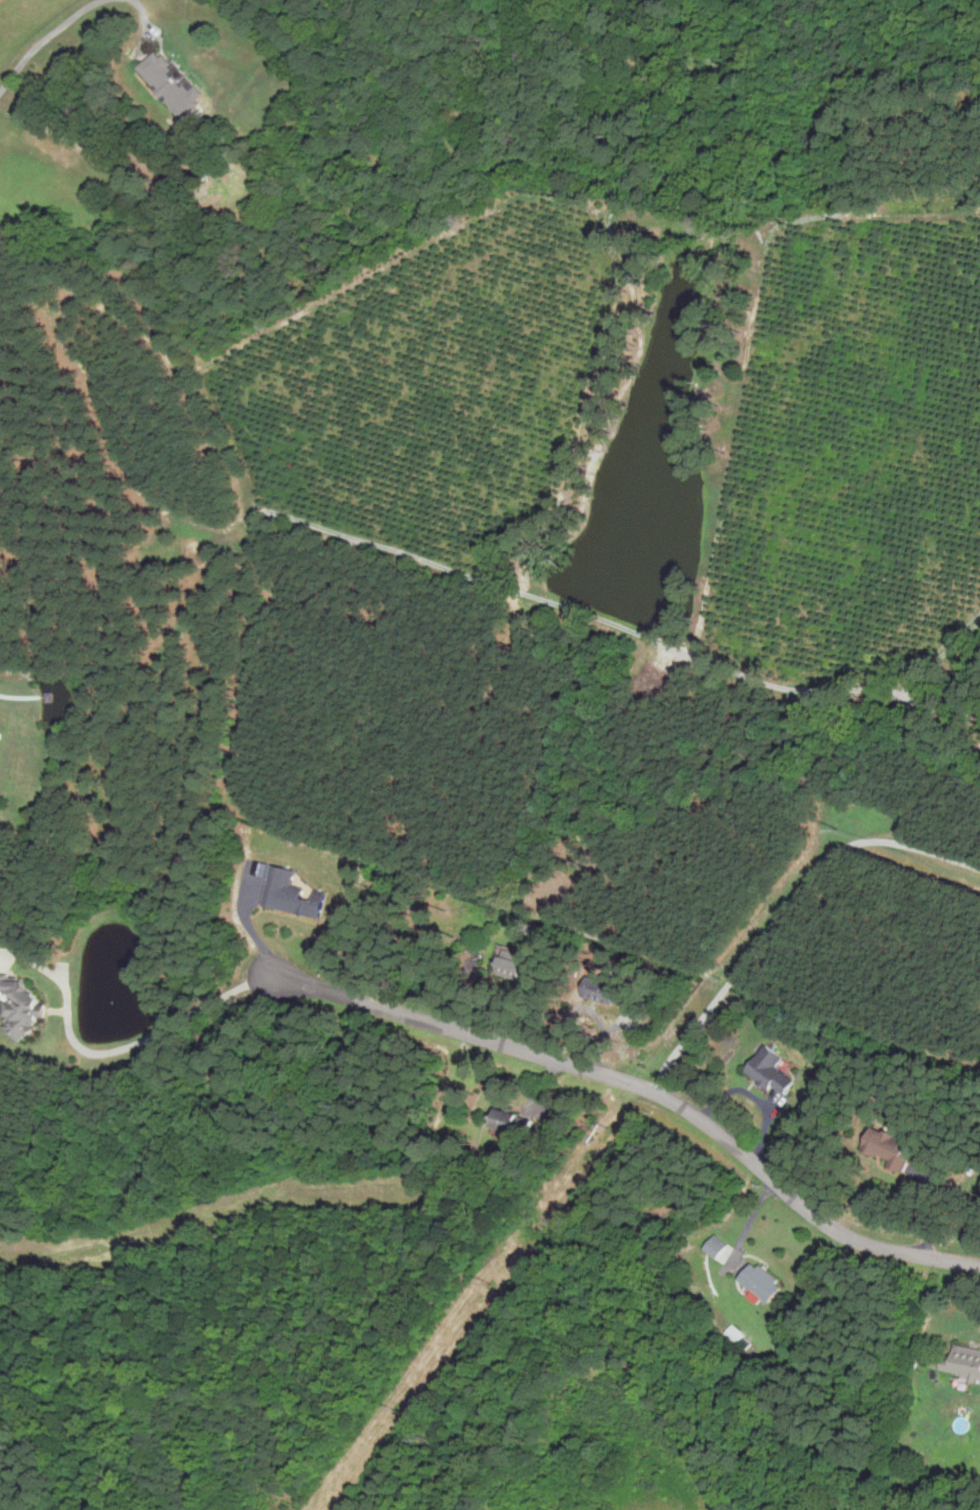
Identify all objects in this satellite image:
road: (140, 12)
road: (40, 35)
building: (171, 86)
building: (291, 894)
road: (788, 909)
building: (507, 966)
building: (602, 991)
road: (68, 993)
building: (23, 1006)
road: (183, 1019)
building: (769, 1072)
road: (645, 1085)
building: (512, 1123)
building: (884, 1147)
building: (759, 1282)
building: (963, 1361)

